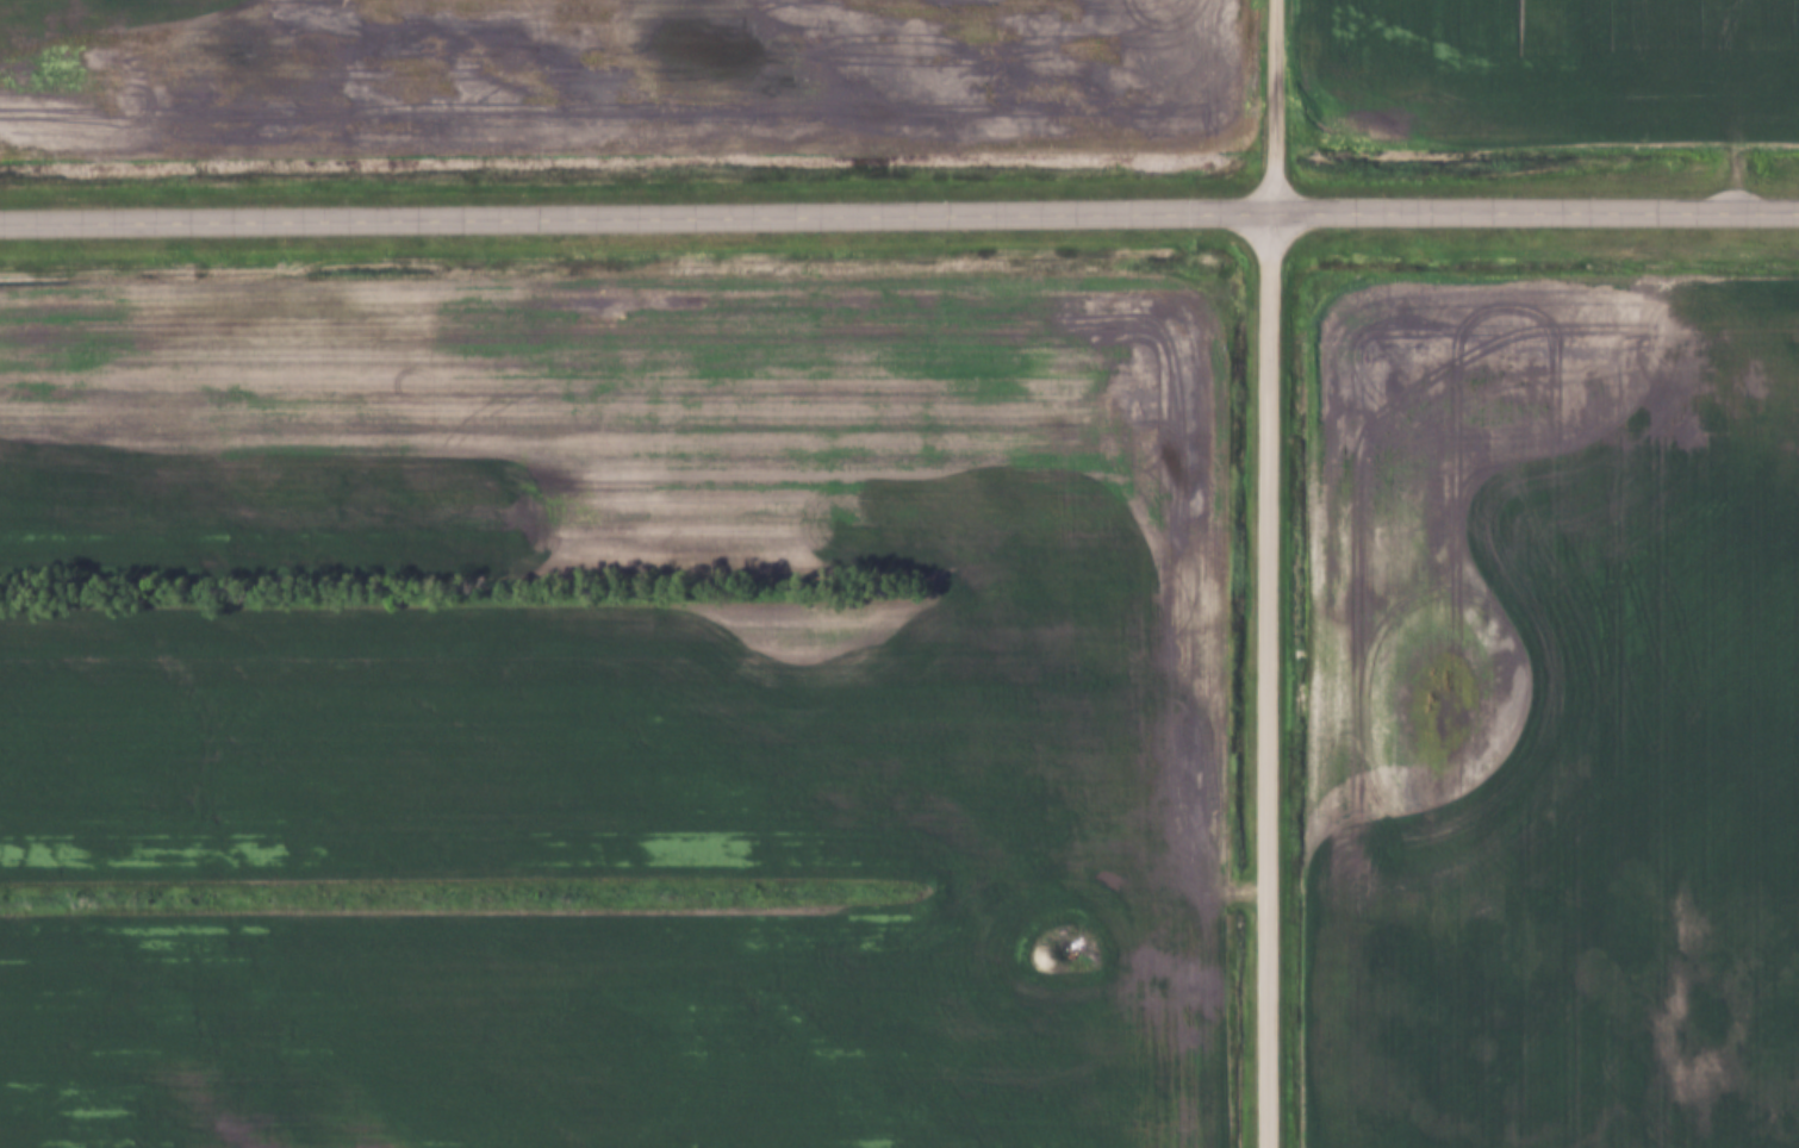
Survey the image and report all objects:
road: (1275, 104)
road: (898, 210)
road: (1268, 678)

